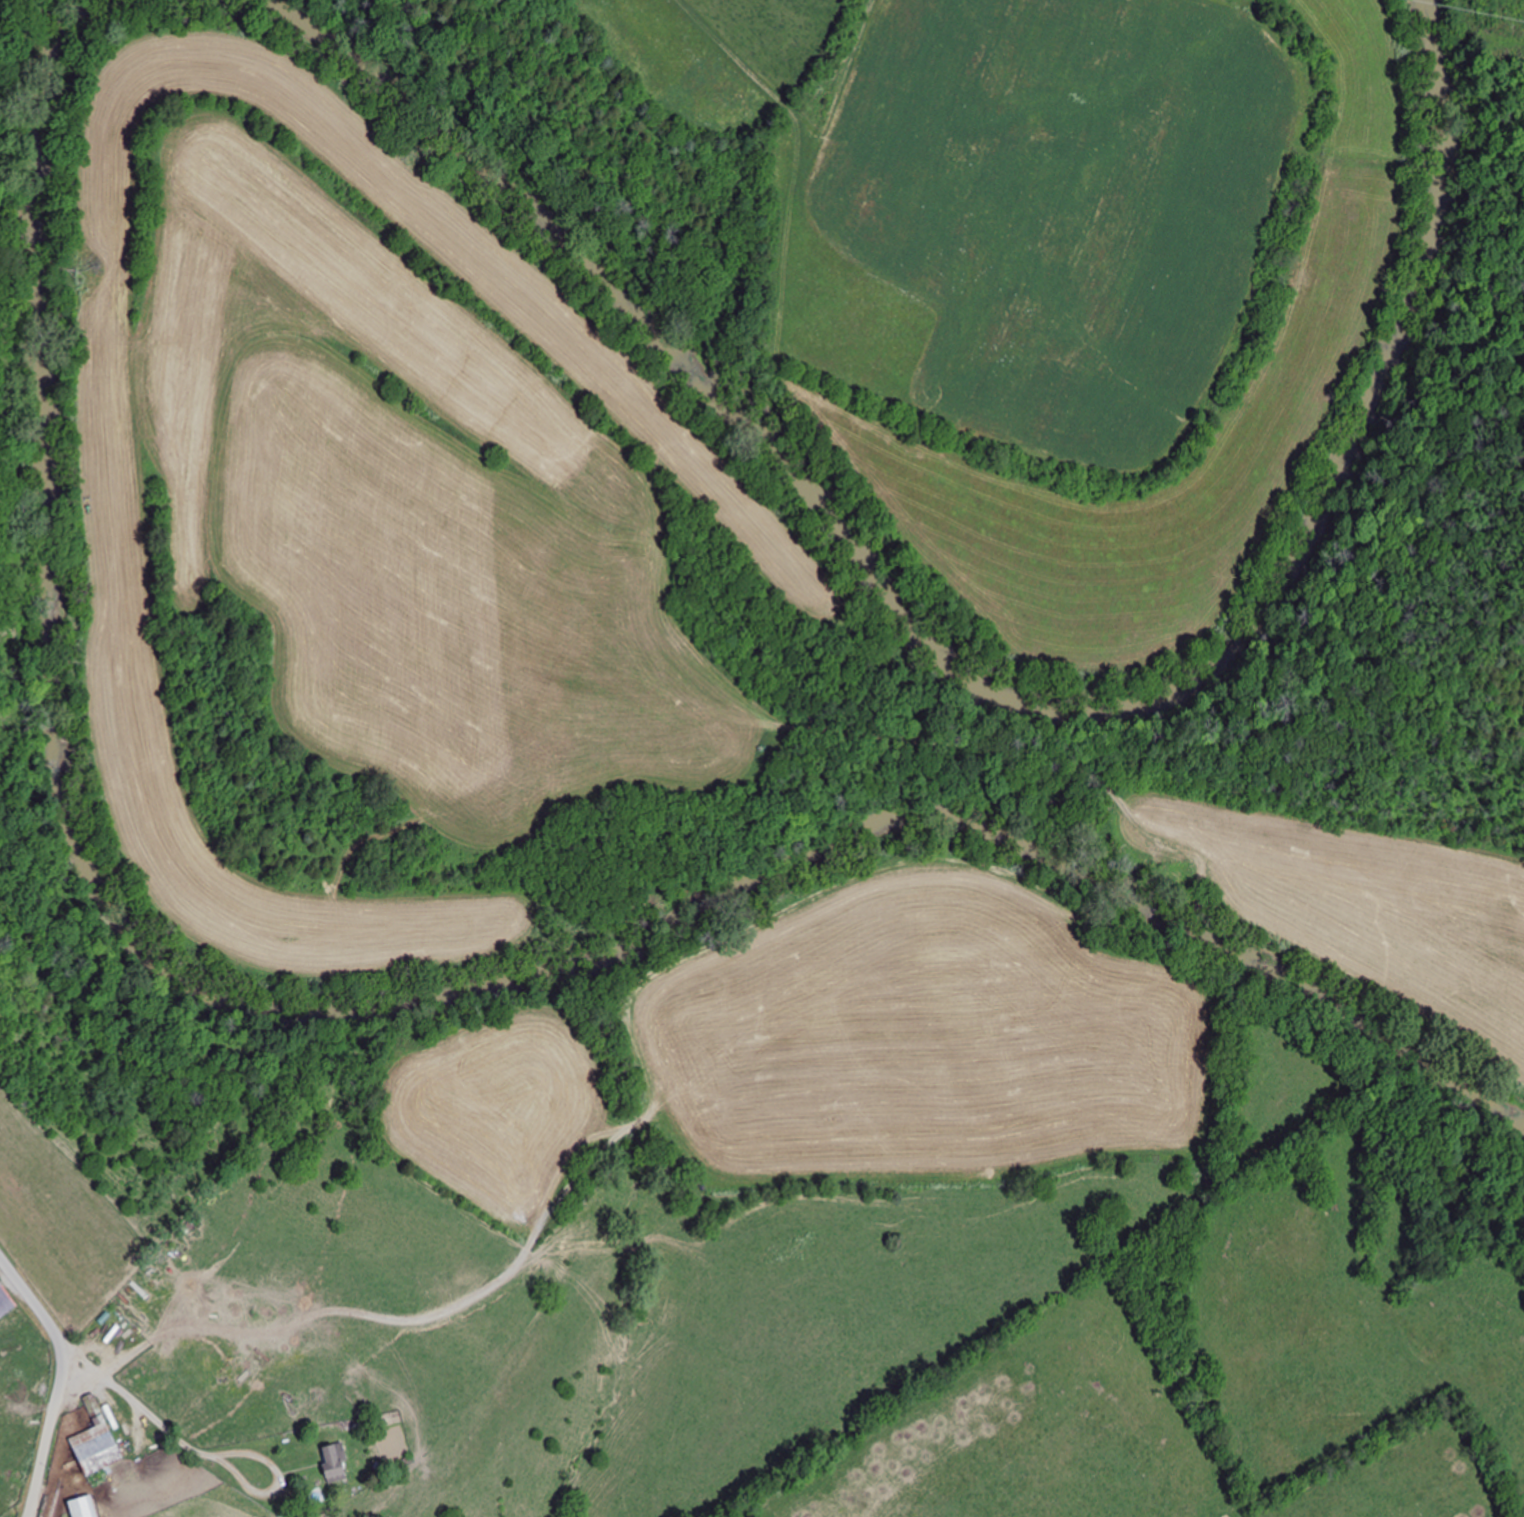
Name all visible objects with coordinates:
river: (977, 681)
building: (58, 832)
river: (401, 994)
building: (8, 1297)
road: (59, 1379)
building: (99, 1442)
building: (338, 1464)
building: (87, 1508)

